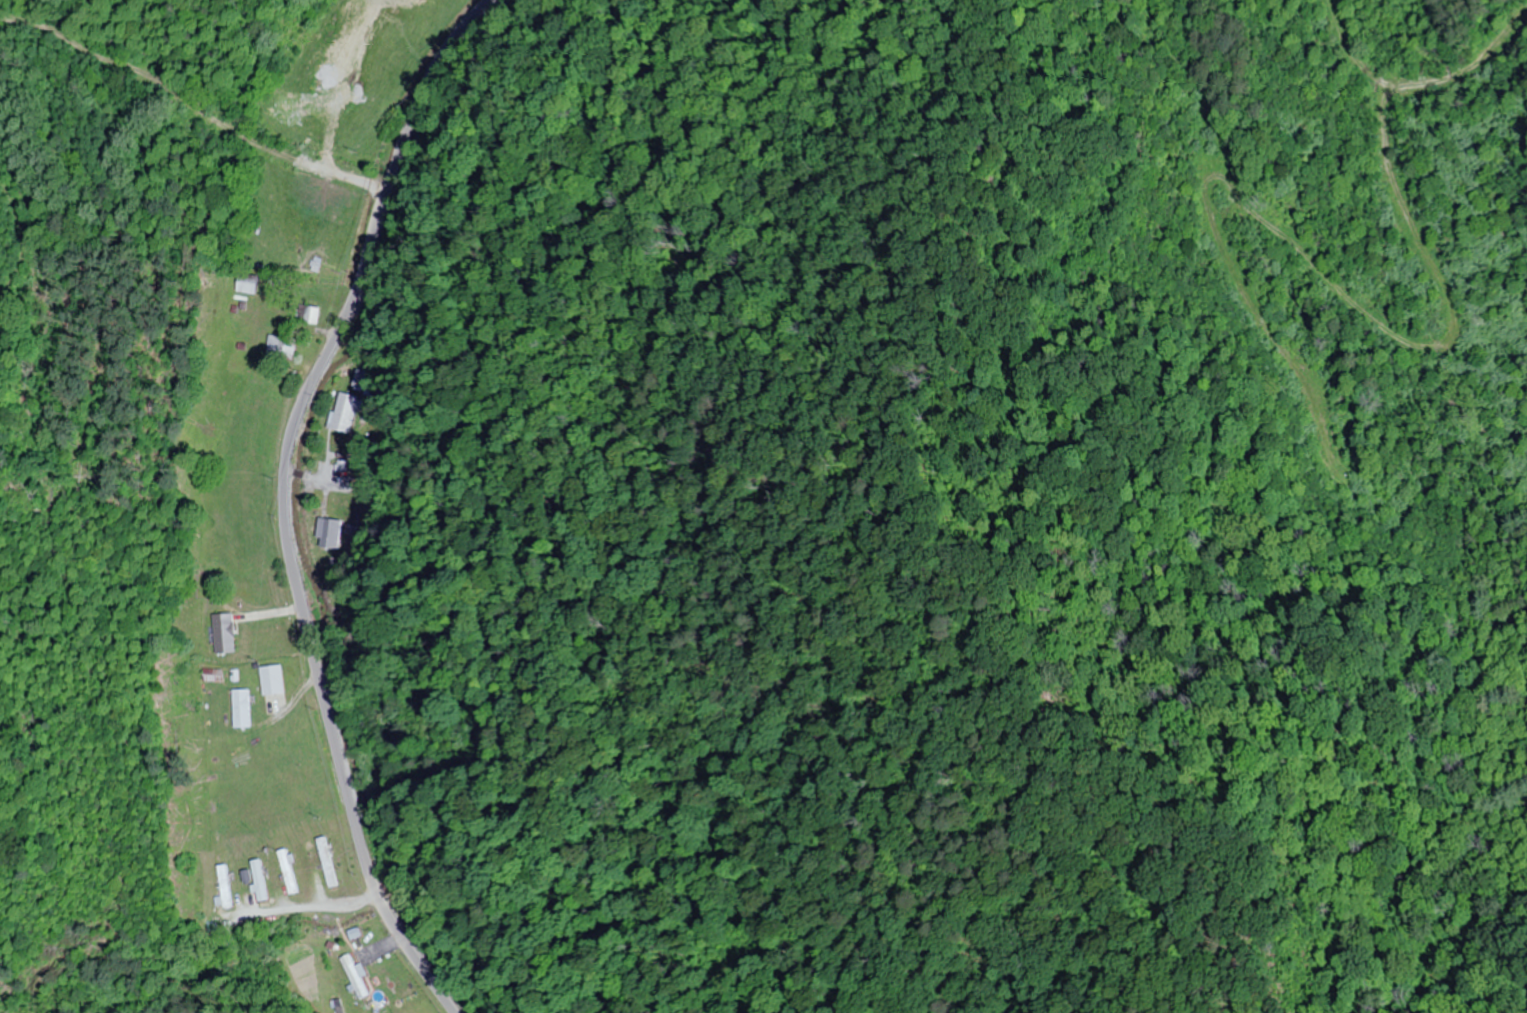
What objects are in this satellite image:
road: (201, 111)
building: (246, 283)
building: (311, 314)
building: (345, 412)
road: (284, 499)
building: (329, 533)
building: (224, 632)
building: (212, 675)
building: (241, 707)
building: (328, 861)
building: (288, 871)
building: (259, 879)
building: (354, 975)

